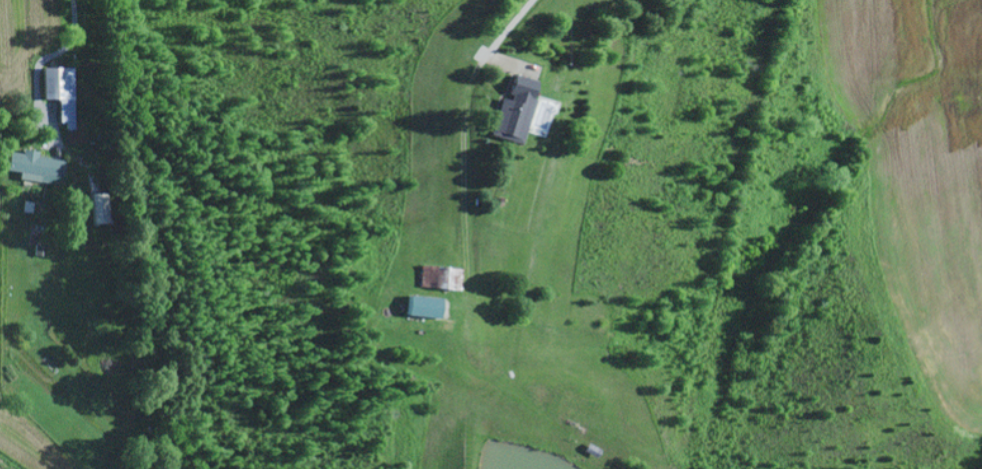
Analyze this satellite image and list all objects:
building: (60, 93)
building: (513, 115)
building: (35, 168)
building: (99, 209)
building: (440, 278)
building: (424, 307)

